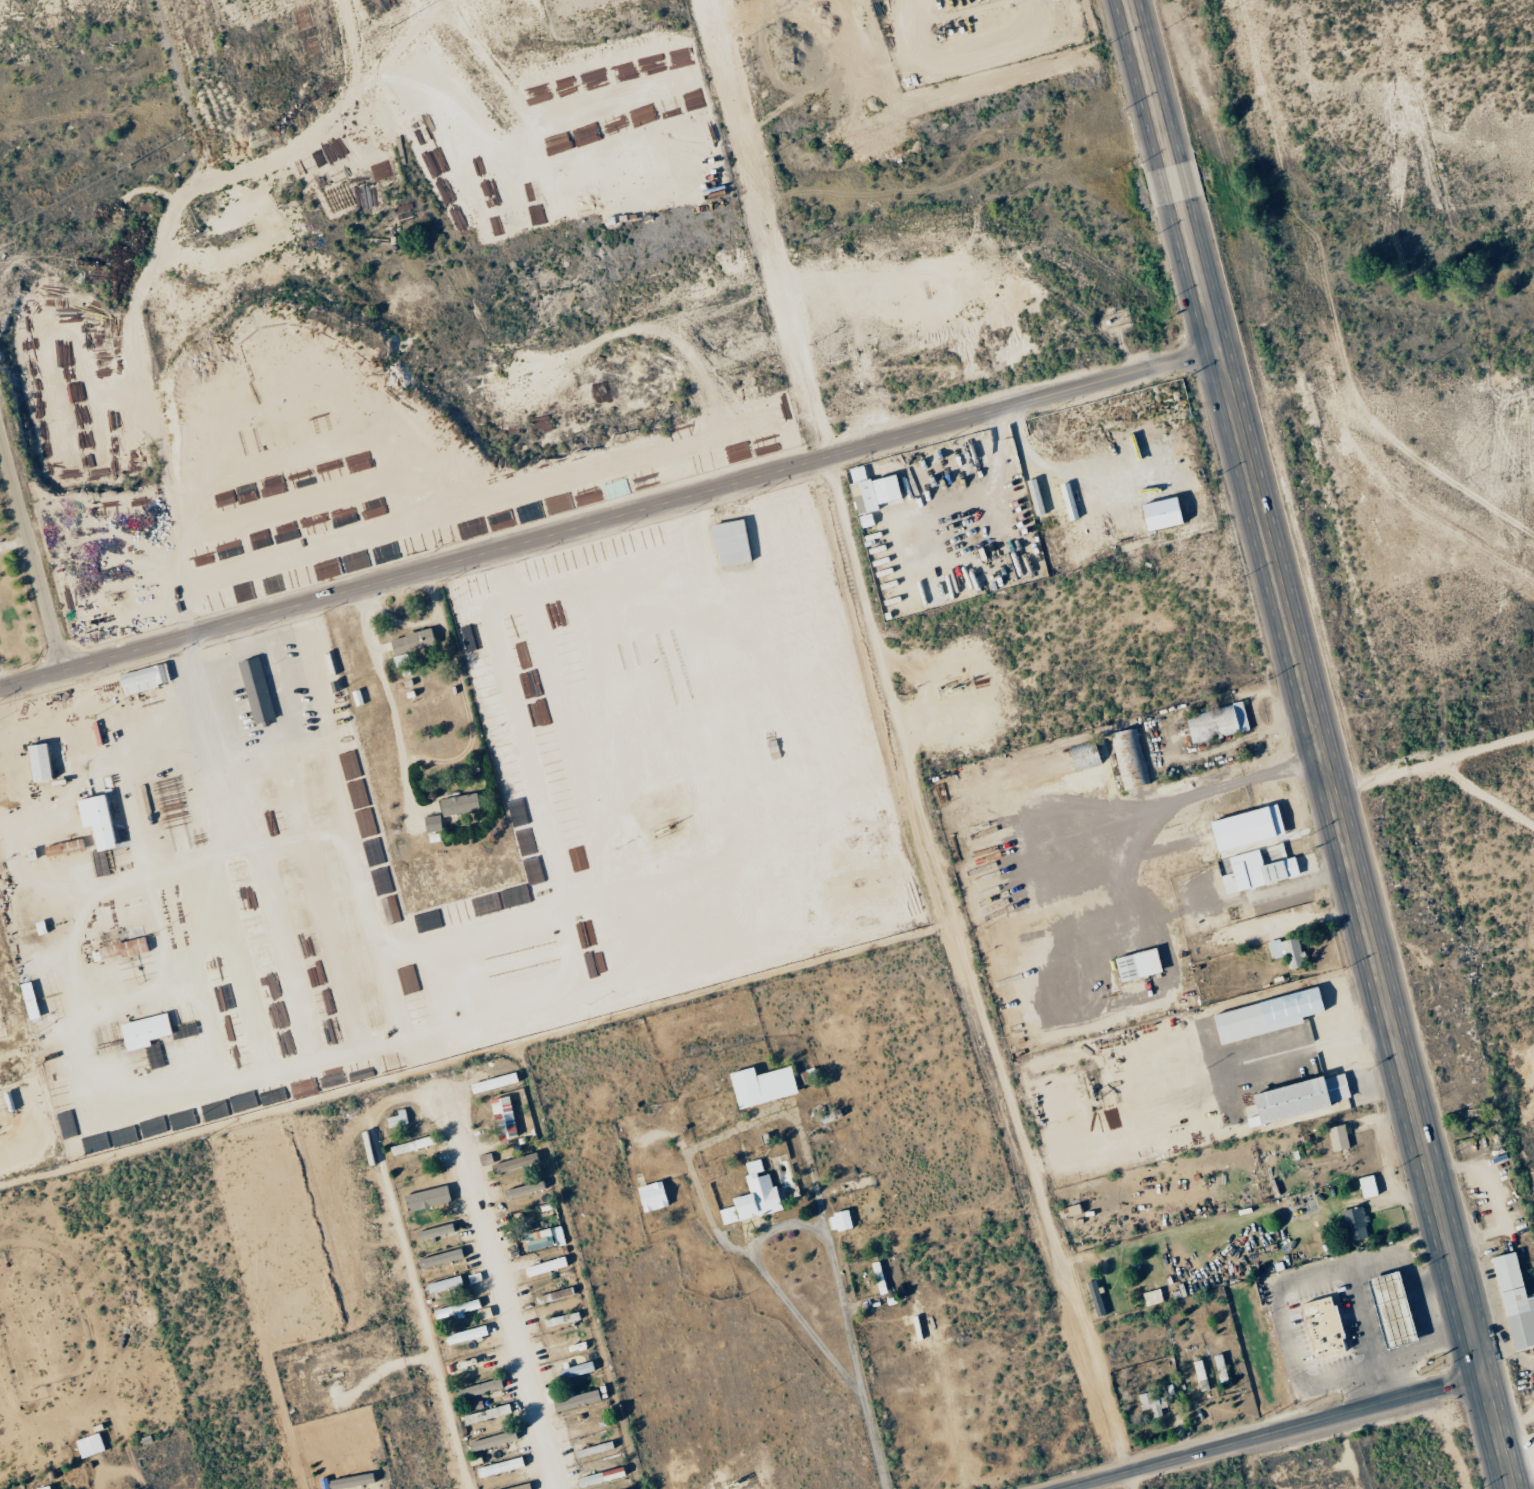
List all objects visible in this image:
road: (1075, 472)
building: (868, 493)
building: (1033, 496)
road: (981, 500)
building: (1066, 501)
building: (1159, 513)
road: (608, 517)
building: (728, 542)
road: (33, 547)
building: (415, 641)
building: (406, 660)
building: (147, 679)
building: (258, 691)
road: (389, 704)
building: (1214, 723)
road: (1318, 744)
building: (1126, 751)
building: (1081, 757)
building: (45, 763)
building: (462, 804)
building: (103, 821)
building: (435, 824)
building: (1243, 826)
building: (1256, 849)
building: (1252, 870)
building: (126, 943)
building: (1284, 950)
building: (1135, 964)
building: (32, 1001)
building: (1263, 1015)
building: (149, 1031)
building: (1147, 1041)
road: (474, 1055)
building: (492, 1082)
building: (758, 1085)
building: (1296, 1097)
building: (501, 1117)
building: (396, 1119)
building: (1336, 1137)
building: (409, 1146)
building: (1139, 1148)
building: (513, 1162)
building: (1365, 1186)
building: (523, 1189)
building: (650, 1196)
building: (750, 1196)
building: (425, 1198)
building: (838, 1221)
building: (1353, 1223)
building: (433, 1231)
road: (788, 1234)
building: (542, 1238)
building: (439, 1258)
road: (408, 1262)
building: (544, 1266)
building: (876, 1275)
building: (442, 1284)
road: (501, 1295)
building: (553, 1295)
building: (1150, 1297)
building: (1512, 1303)
building: (454, 1309)
building: (1392, 1310)
building: (560, 1319)
building: (1324, 1326)
road: (794, 1328)
building: (463, 1335)
road: (850, 1365)
building: (575, 1370)
building: (476, 1389)
building: (573, 1400)
building: (1151, 1404)
building: (485, 1414)
road: (1272, 1432)
building: (490, 1441)
building: (87, 1445)
building: (592, 1449)
building: (498, 1467)
building: (597, 1477)
building: (349, 1481)
building: (519, 1487)
building: (41, 1488)

